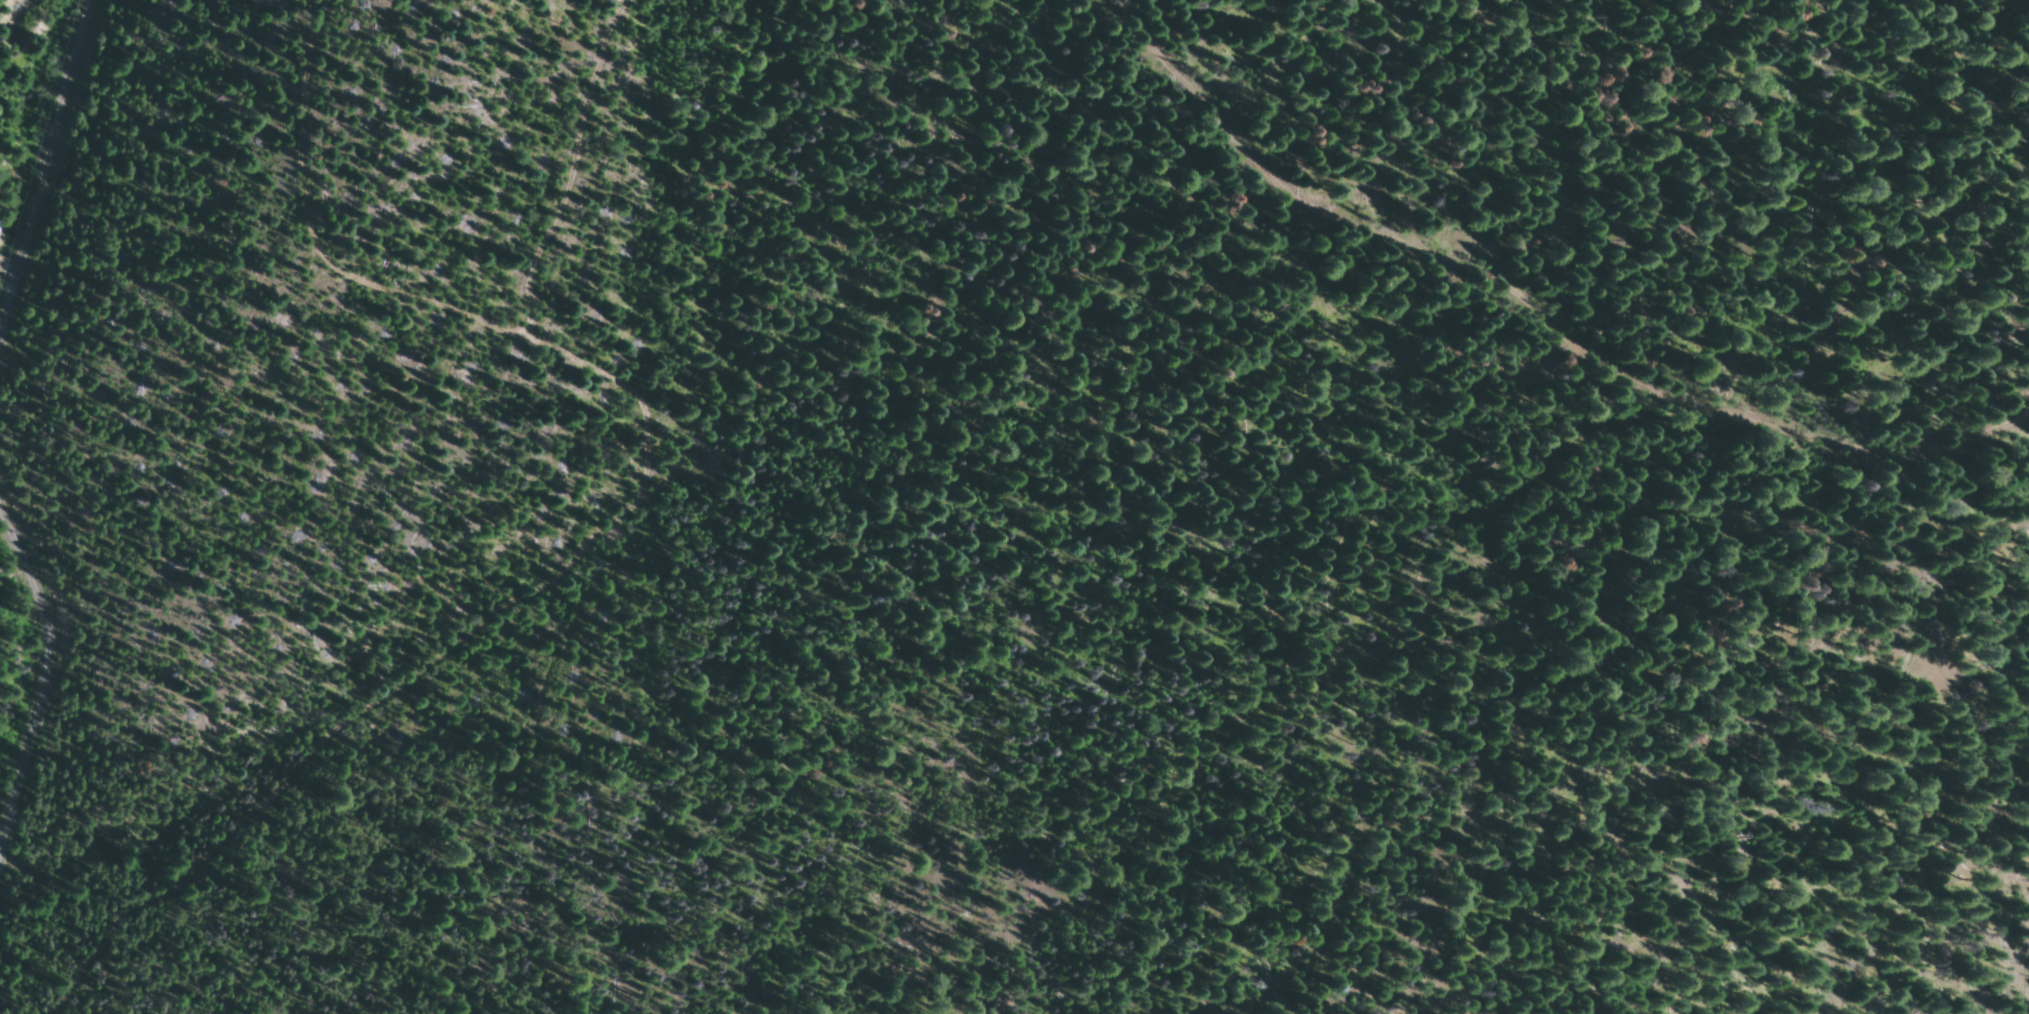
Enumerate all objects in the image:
road: (57, 180)
building: (0, 221)
road: (1488, 345)
road: (48, 769)
road: (2020, 1009)

